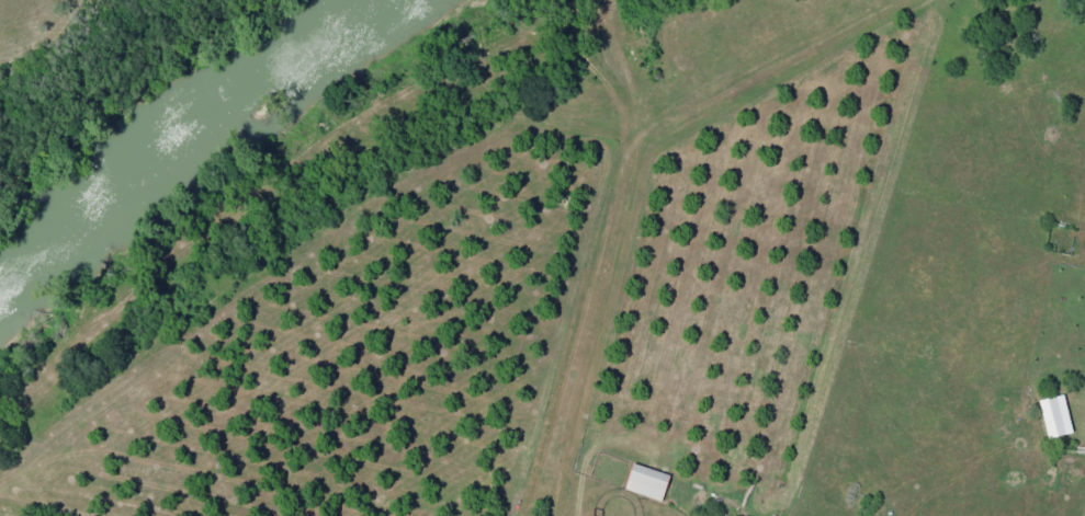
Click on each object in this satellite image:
river: (187, 124)
road: (660, 177)
building: (1053, 415)
building: (645, 481)

